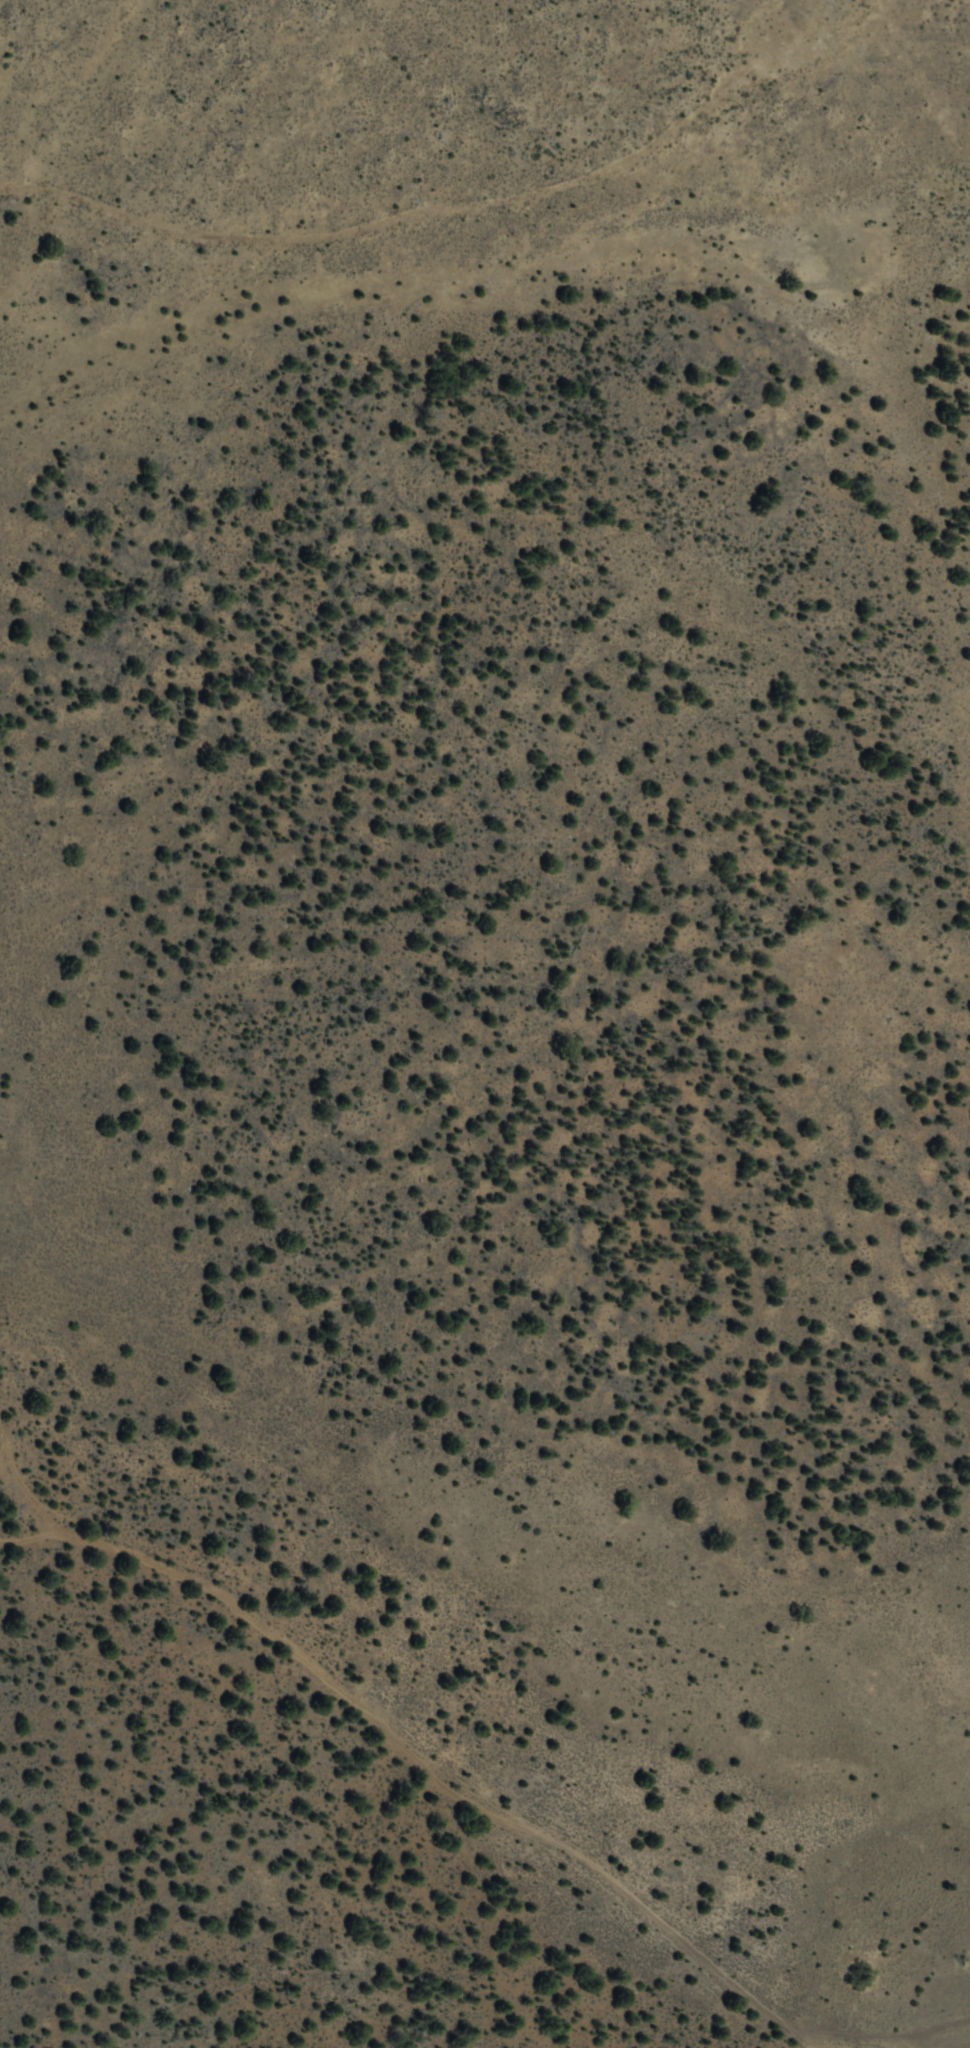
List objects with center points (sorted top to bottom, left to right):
road: (32, 1501)
road: (475, 1807)
road: (957, 2022)

